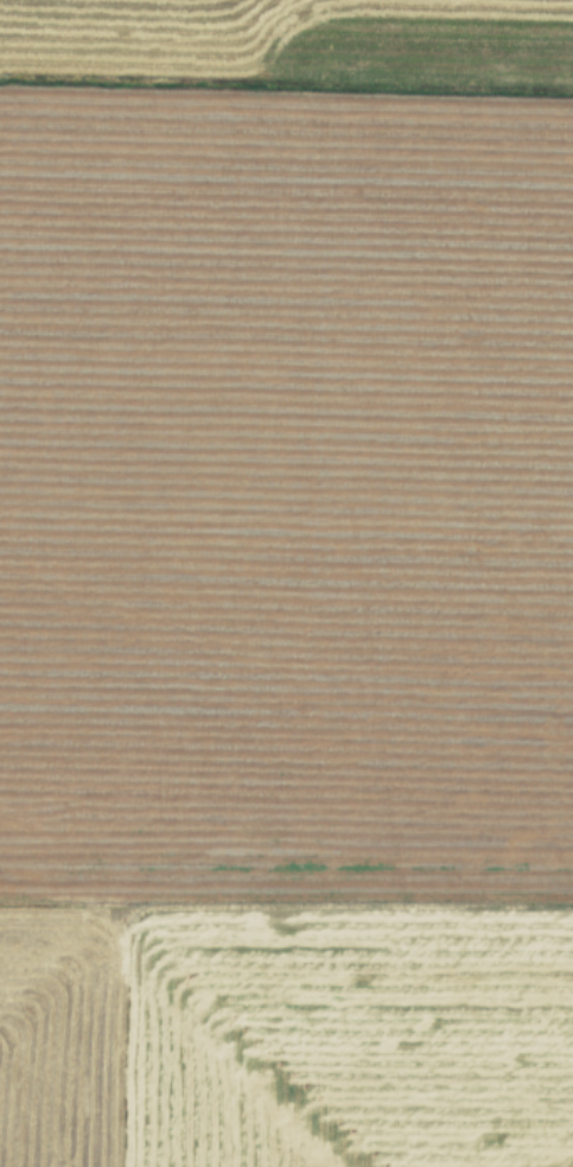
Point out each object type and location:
crop: (286, 583)

